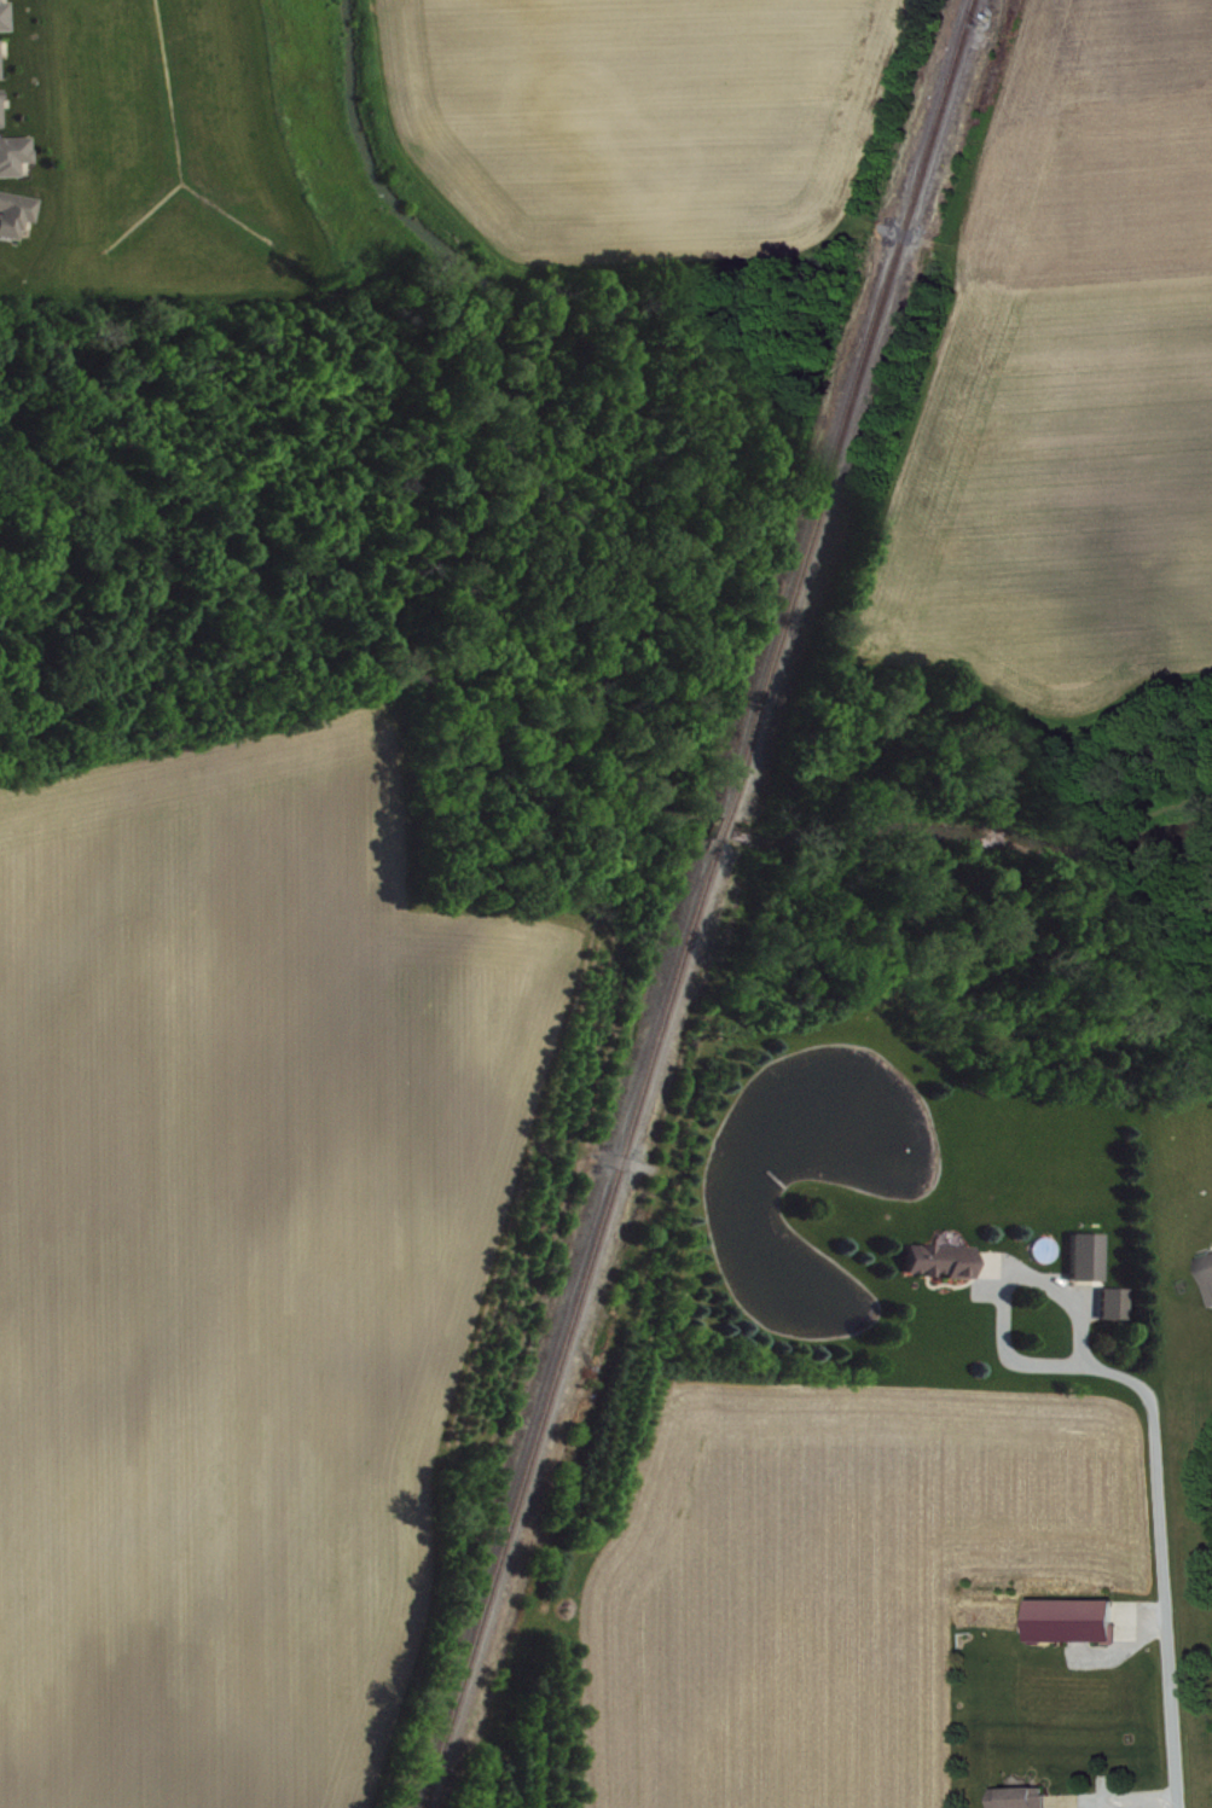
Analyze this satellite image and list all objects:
building: (5, 25)
building: (0, 70)
building: (1, 117)
building: (15, 163)
building: (16, 222)
railway: (851, 408)
railway: (723, 830)
crop: (251, 1258)
building: (1088, 1266)
building: (943, 1271)
building: (1208, 1278)
road: (1003, 1285)
building: (1115, 1313)
railway: (570, 1325)
road: (1160, 1562)
building: (1078, 1629)
building: (1022, 1802)
road: (1117, 1804)

